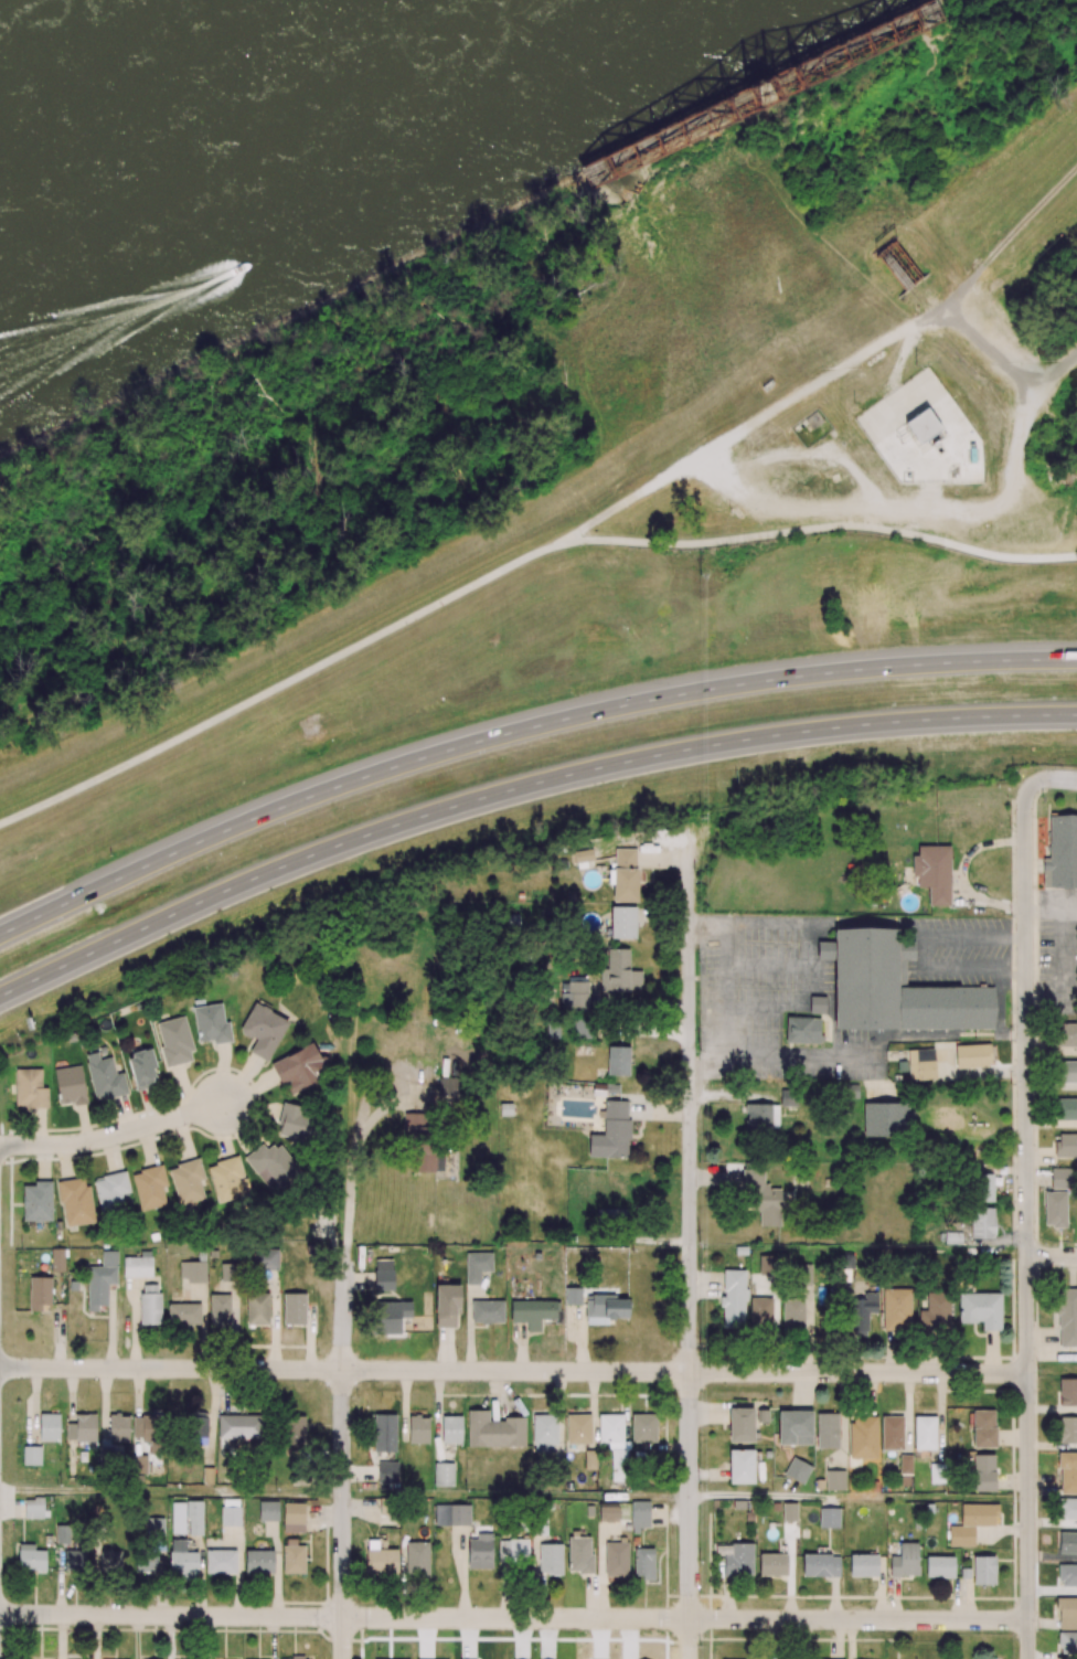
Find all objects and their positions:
railway: (757, 89)
river: (200, 98)
road: (1034, 205)
building: (898, 264)
road: (974, 336)
road: (1058, 374)
building: (923, 425)
road: (729, 437)
road: (819, 527)
road: (280, 689)
road: (521, 727)
road: (1056, 779)
road: (521, 788)
building: (1060, 853)
building: (583, 854)
building: (934, 873)
building: (625, 875)
road: (823, 922)
building: (622, 923)
road: (974, 935)
building: (824, 950)
road: (924, 953)
road: (1064, 956)
road: (974, 968)
building: (619, 974)
building: (897, 989)
road: (724, 992)
building: (575, 996)
road: (1000, 1010)
building: (211, 1024)
building: (582, 1029)
building: (264, 1030)
building: (802, 1030)
building: (1067, 1034)
building: (174, 1041)
building: (972, 1056)
building: (618, 1061)
building: (921, 1064)
building: (299, 1068)
building: (143, 1070)
building: (1065, 1071)
building: (105, 1077)
building: (71, 1085)
building: (30, 1088)
building: (448, 1088)
building: (788, 1097)
building: (761, 1117)
building: (888, 1119)
building: (298, 1124)
building: (414, 1125)
building: (612, 1131)
road: (113, 1135)
building: (426, 1157)
building: (273, 1167)
road: (352, 1167)
building: (188, 1179)
building: (227, 1179)
building: (150, 1184)
building: (110, 1191)
building: (764, 1198)
building: (38, 1202)
building: (75, 1202)
building: (610, 1214)
road: (1026, 1219)
road: (689, 1247)
road: (1052, 1257)
building: (57, 1259)
building: (266, 1259)
building: (477, 1264)
building: (137, 1265)
building: (193, 1272)
building: (228, 1272)
building: (384, 1275)
building: (102, 1280)
building: (40, 1293)
building: (573, 1296)
building: (150, 1304)
building: (447, 1305)
building: (292, 1306)
building: (257, 1308)
building: (980, 1308)
building: (606, 1309)
building: (220, 1311)
building: (487, 1311)
building: (535, 1312)
building: (183, 1314)
building: (391, 1316)
road: (513, 1370)
building: (740, 1423)
building: (148, 1426)
building: (239, 1426)
building: (643, 1426)
building: (795, 1426)
building: (50, 1427)
building: (578, 1427)
building: (82, 1428)
building: (118, 1428)
building: (198, 1428)
building: (827, 1429)
building: (296, 1431)
building: (892, 1432)
building: (924, 1432)
building: (862, 1436)
building: (767, 1453)
building: (140, 1464)
building: (740, 1464)
road: (343, 1465)
building: (797, 1469)
building: (386, 1470)
building: (444, 1474)
building: (834, 1479)
road: (171, 1492)
road: (515, 1496)
road: (859, 1498)
building: (775, 1506)
building: (35, 1508)
building: (268, 1509)
building: (789, 1511)
building: (829, 1517)
building: (1067, 1540)
building: (550, 1557)
building: (904, 1559)
building: (221, 1560)
building: (259, 1560)
building: (772, 1563)
building: (863, 1563)
building: (1067, 1572)
road: (513, 1618)

